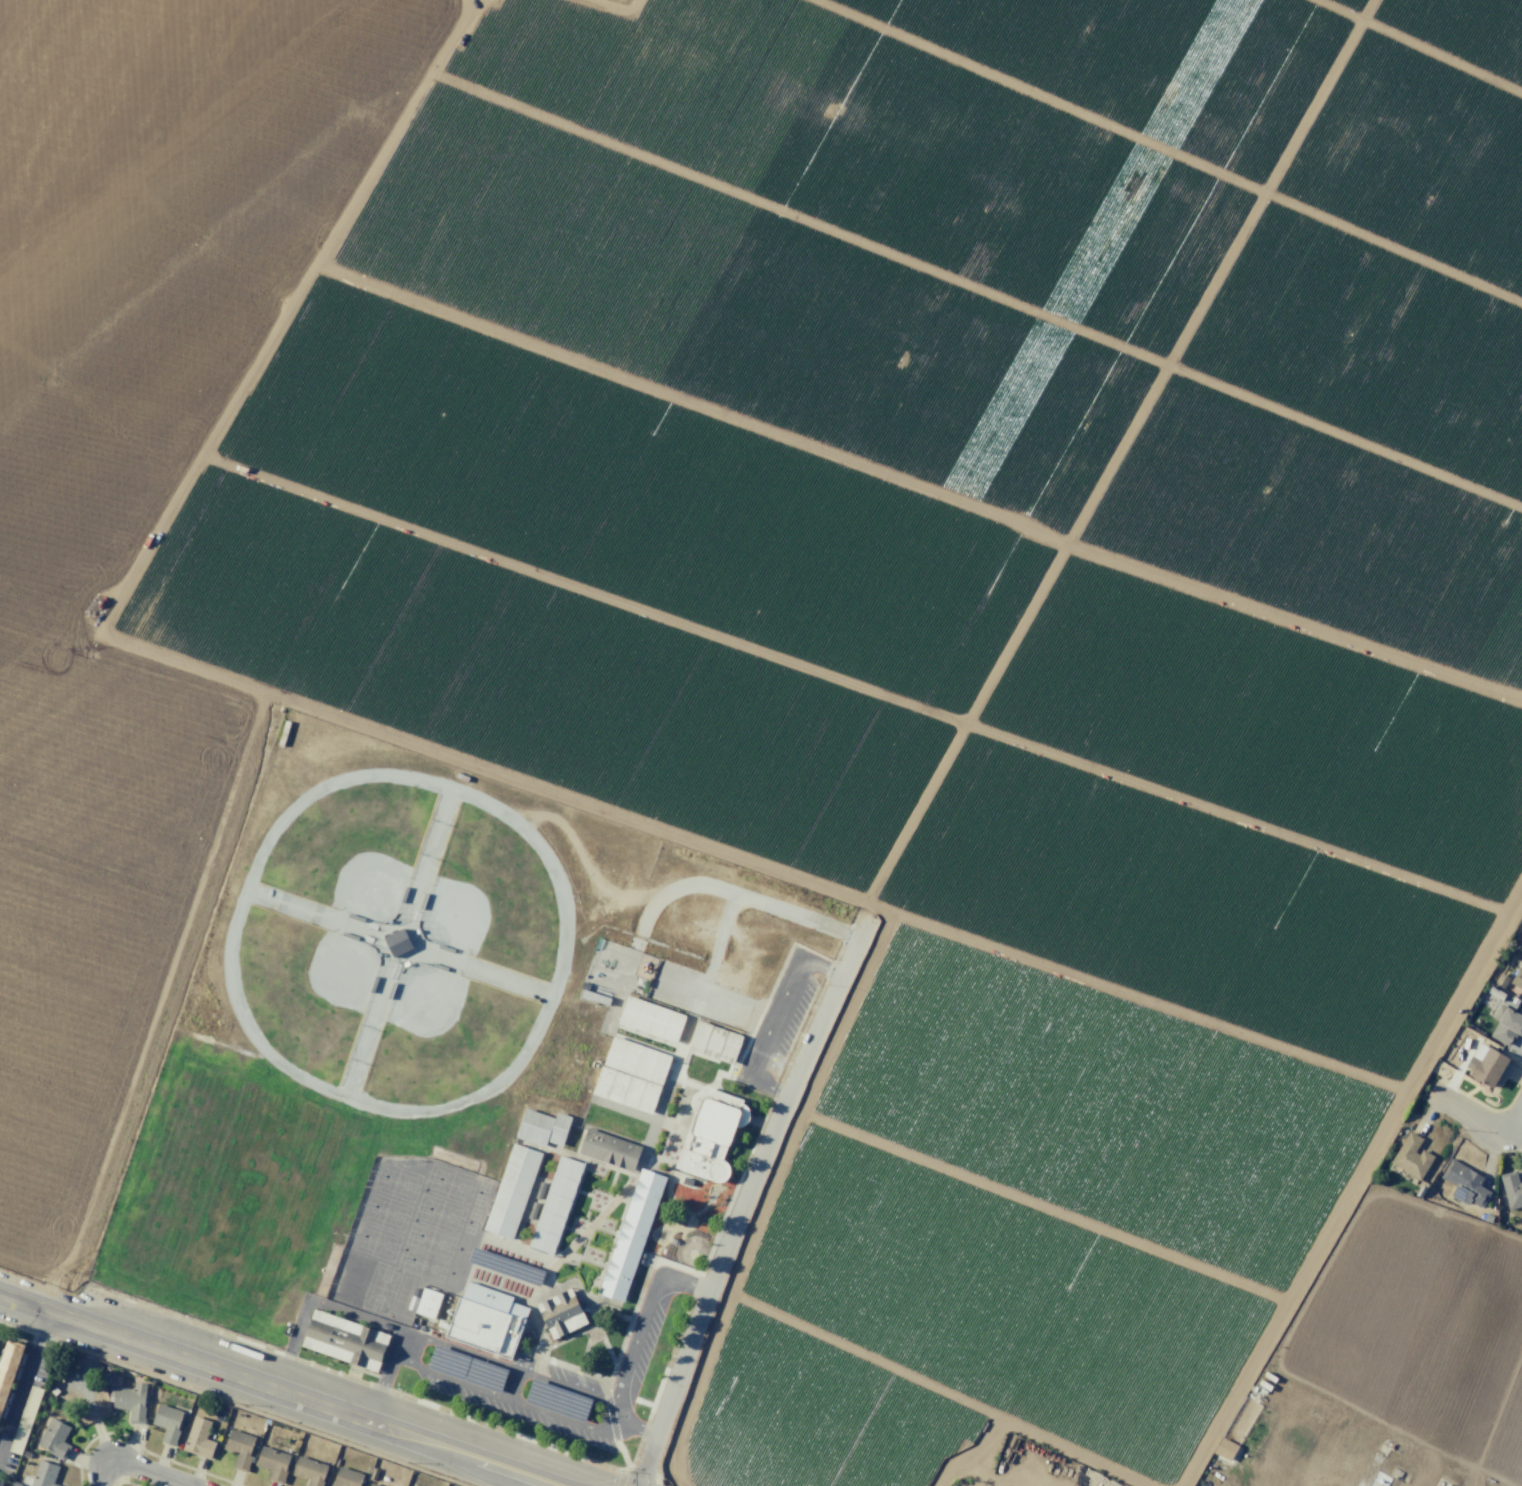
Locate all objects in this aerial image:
crop: (803, 595)
building: (1521, 929)
building: (1521, 931)
building: (396, 941)
building: (1517, 977)
building: (1501, 980)
building: (1496, 993)
building: (1486, 1000)
building: (650, 1019)
road: (772, 1019)
building: (1506, 1024)
building: (714, 1041)
building: (636, 1060)
building: (1485, 1065)
building: (625, 1089)
road: (1473, 1115)
road: (1515, 1122)
building: (534, 1127)
building: (559, 1128)
building: (709, 1133)
building: (609, 1149)
building: (1412, 1156)
building: (1464, 1184)
building: (1512, 1190)
building: (512, 1191)
road: (745, 1197)
building: (554, 1204)
building: (631, 1235)
building: (492, 1300)
building: (427, 1302)
building: (561, 1313)
road: (644, 1316)
building: (484, 1327)
building: (344, 1340)
parking lot: (647, 1342)
building: (7, 1364)
road: (24, 1379)
road: (279, 1389)
road: (381, 1389)
parking lot: (518, 1389)
building: (131, 1400)
road: (612, 1405)
building: (24, 1420)
building: (167, 1422)
road: (631, 1424)
road: (615, 1427)
building: (198, 1438)
building: (54, 1439)
building: (239, 1448)
building: (1225, 1449)
building: (272, 1463)
road: (138, 1467)
building: (310, 1470)
building: (44, 1474)
building: (346, 1478)
building: (0, 1482)
building: (373, 1484)

